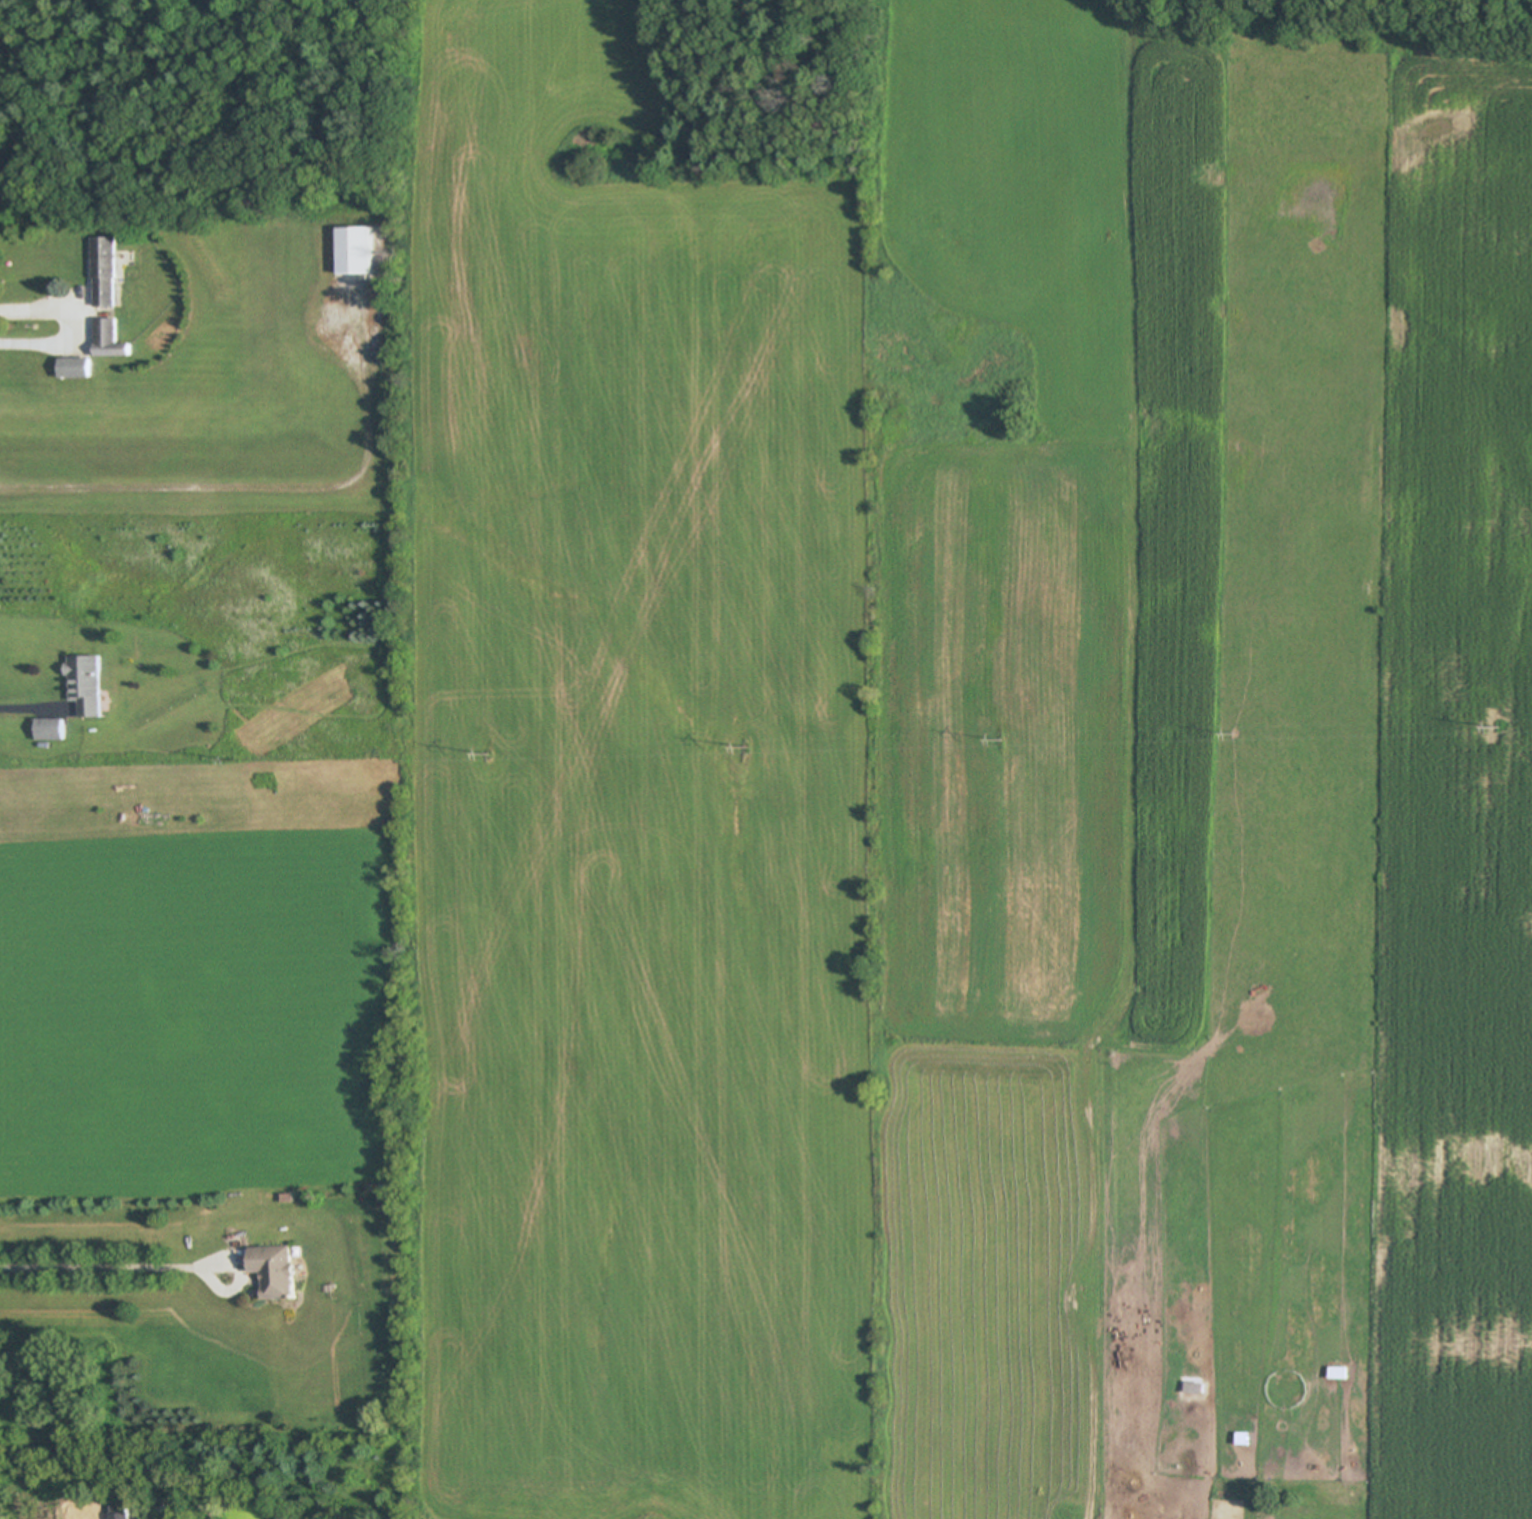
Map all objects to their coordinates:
building: (355, 252)
building: (106, 273)
road: (69, 328)
building: (110, 341)
building: (79, 369)
road: (266, 488)
building: (89, 686)
road: (28, 707)
building: (50, 731)
road: (103, 1267)
building: (279, 1271)
building: (1334, 1374)
building: (1239, 1439)
building: (121, 1510)

